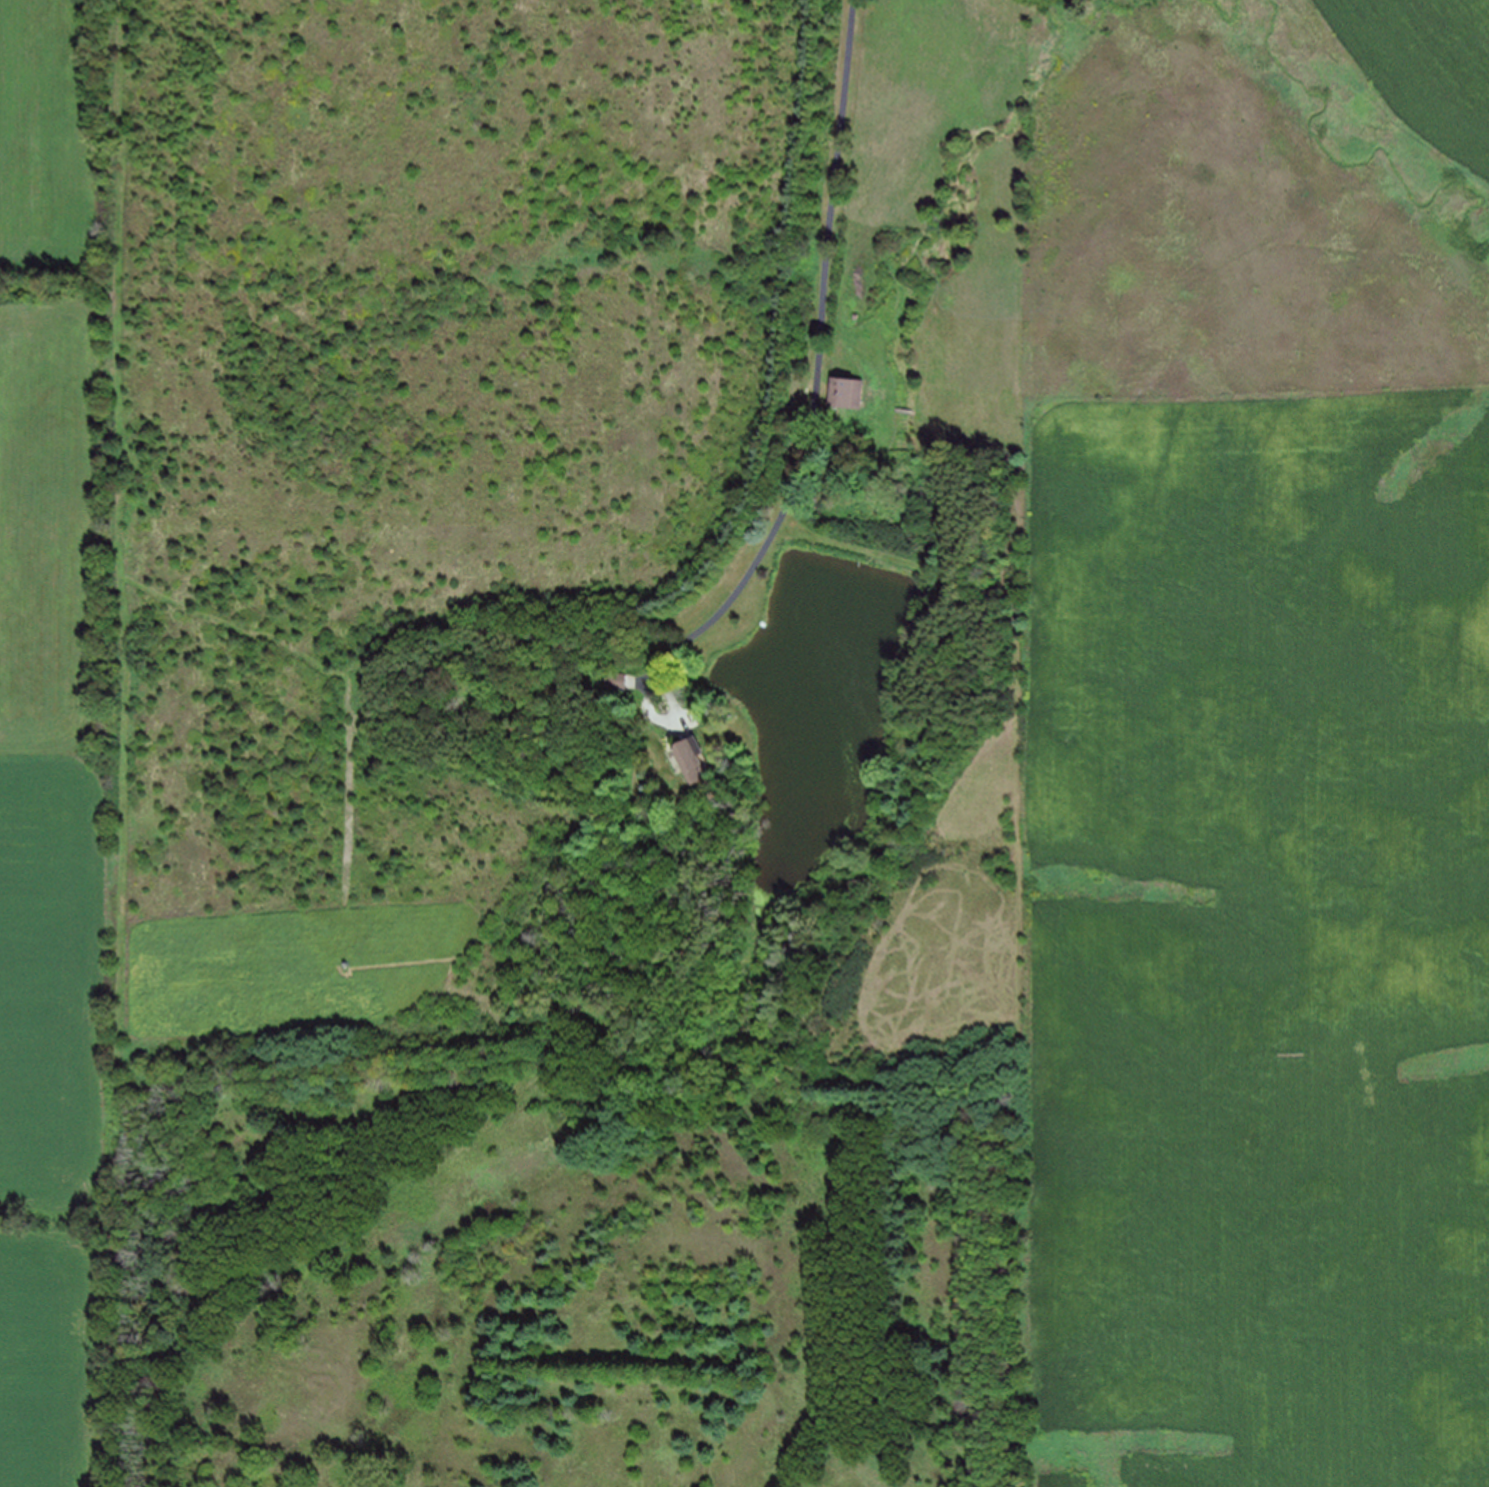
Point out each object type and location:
road: (821, 344)
building: (843, 392)
road: (905, 410)
building: (618, 681)
road: (659, 715)
building: (688, 759)

